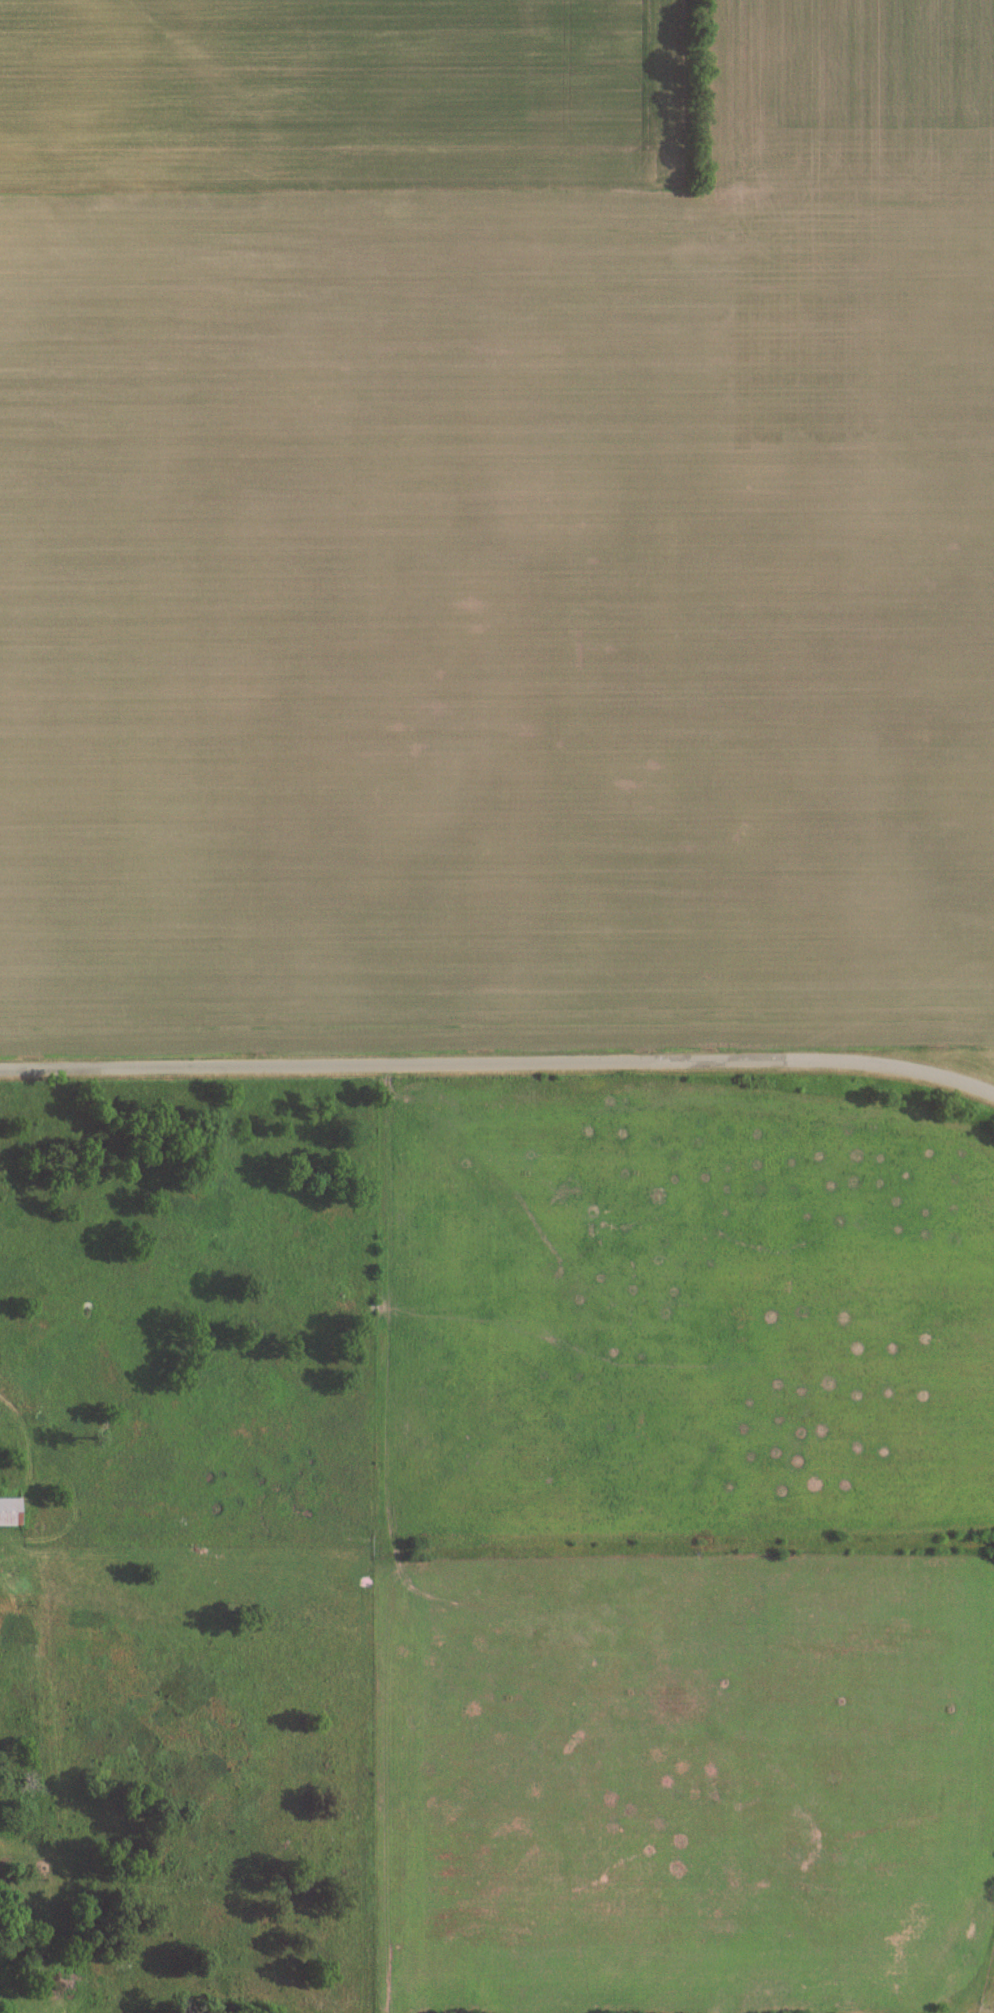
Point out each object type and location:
road: (498, 1067)
road: (22, 1438)
building: (9, 1510)

